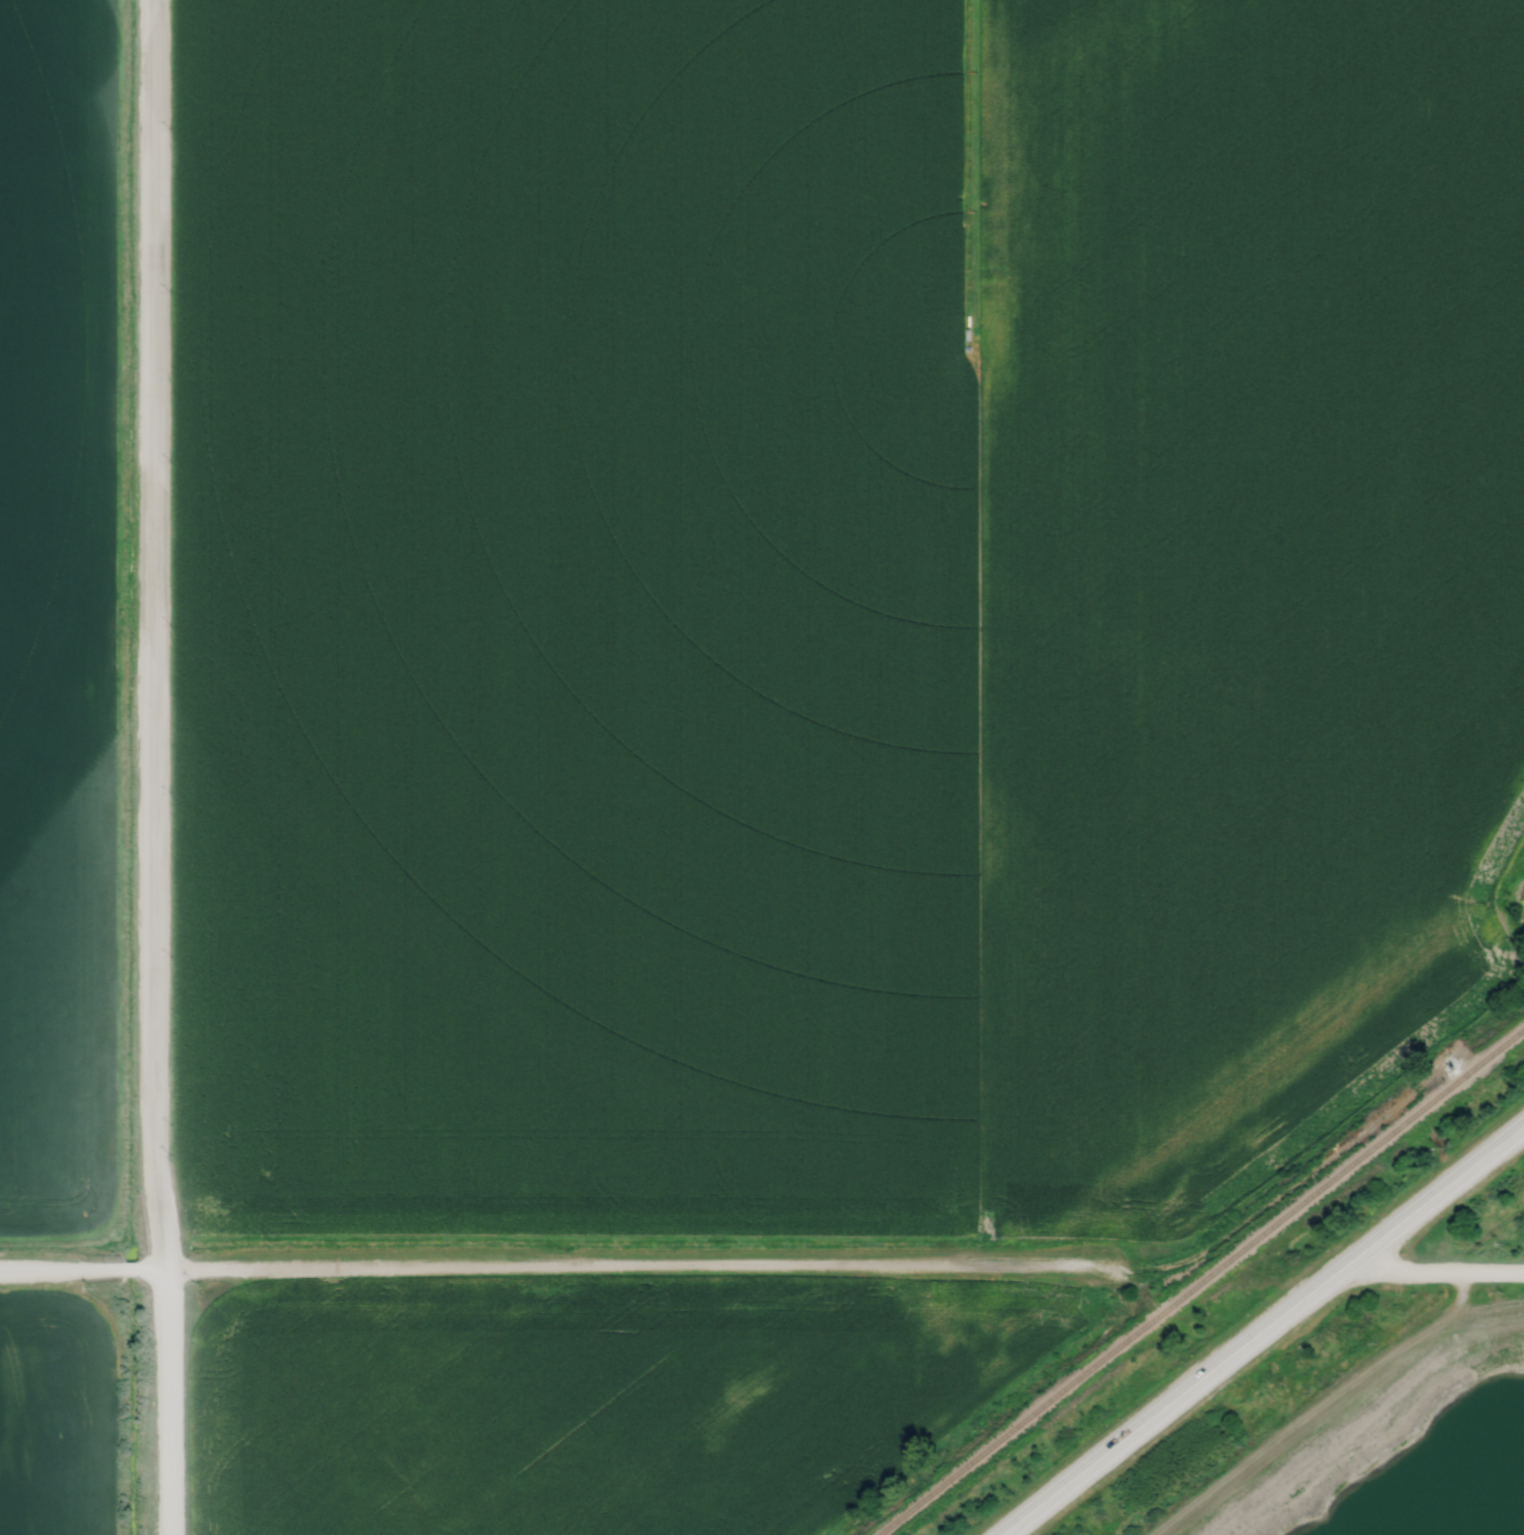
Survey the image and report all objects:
road: (150, 767)
road: (1443, 1185)
road: (568, 1262)
road: (1439, 1273)
railway: (1201, 1281)
road: (1181, 1391)

